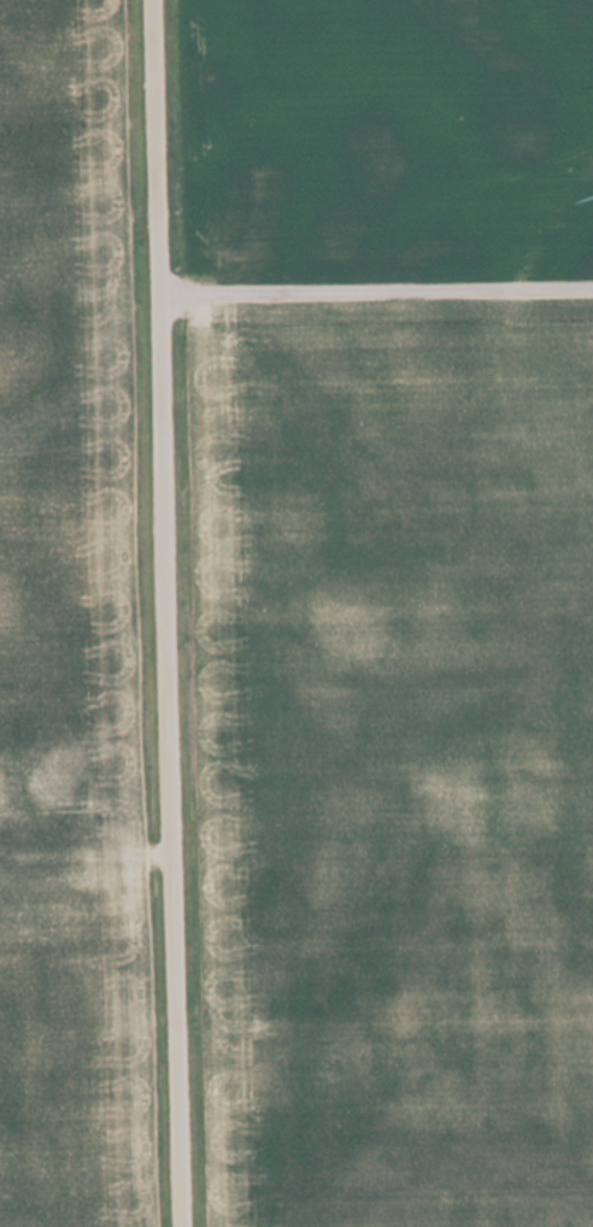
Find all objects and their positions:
road: (375, 276)
road: (165, 613)

